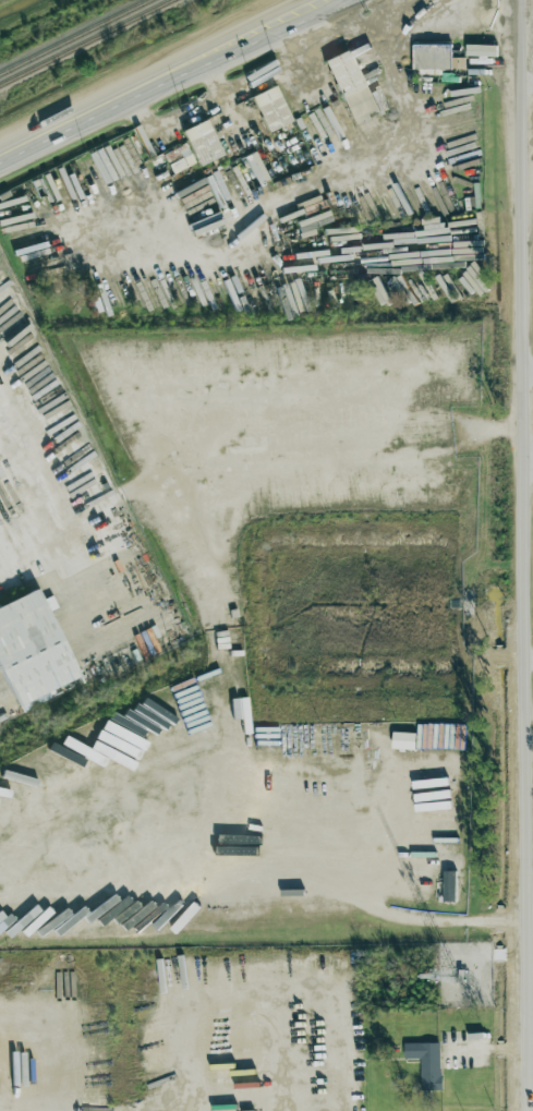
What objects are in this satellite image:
road: (351, 26)
railway: (74, 36)
railway: (87, 43)
building: (433, 57)
road: (283, 67)
road: (220, 72)
road: (153, 76)
building: (351, 86)
road: (526, 86)
building: (270, 108)
road: (170, 125)
building: (203, 143)
building: (179, 158)
road: (529, 379)
road: (530, 458)
road: (64, 505)
road: (528, 555)
building: (32, 652)
road: (531, 662)
road: (531, 733)
building: (450, 886)
road: (441, 925)
building: (427, 1063)
road: (532, 1090)

